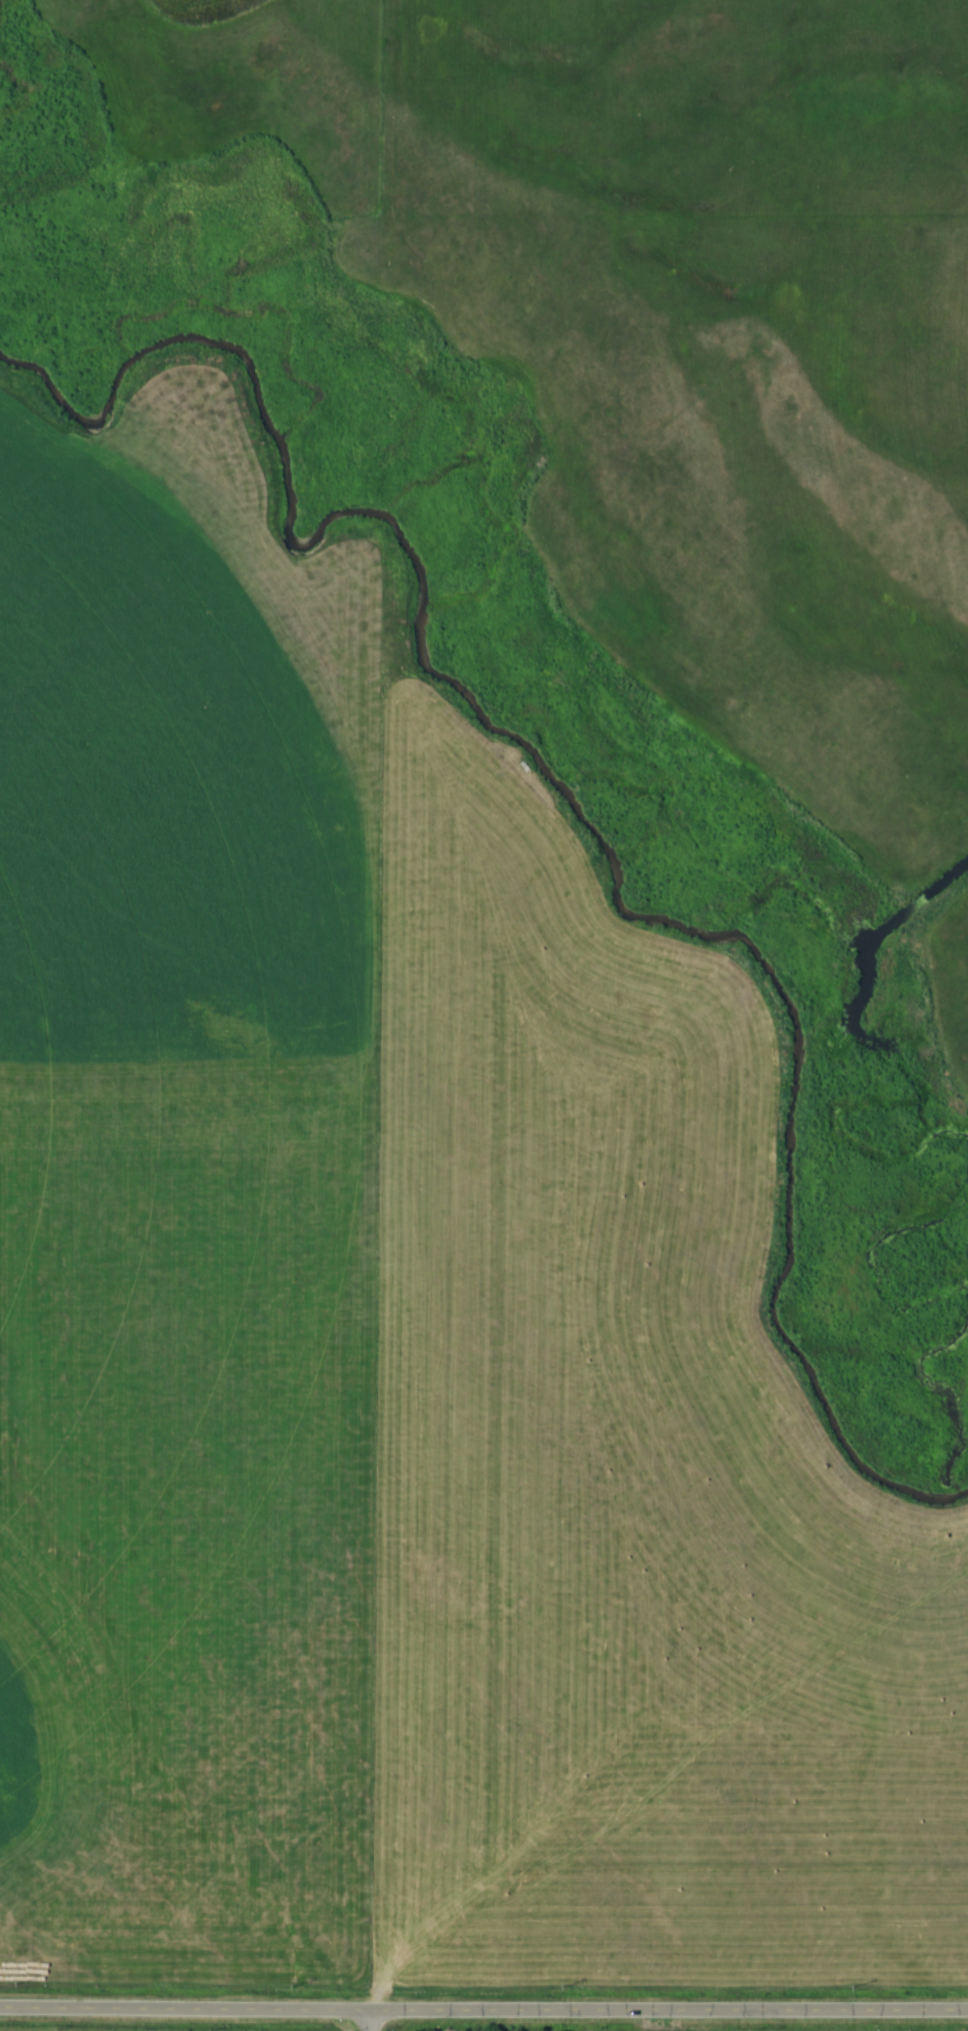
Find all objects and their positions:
road: (483, 2007)
road: (372, 2019)

